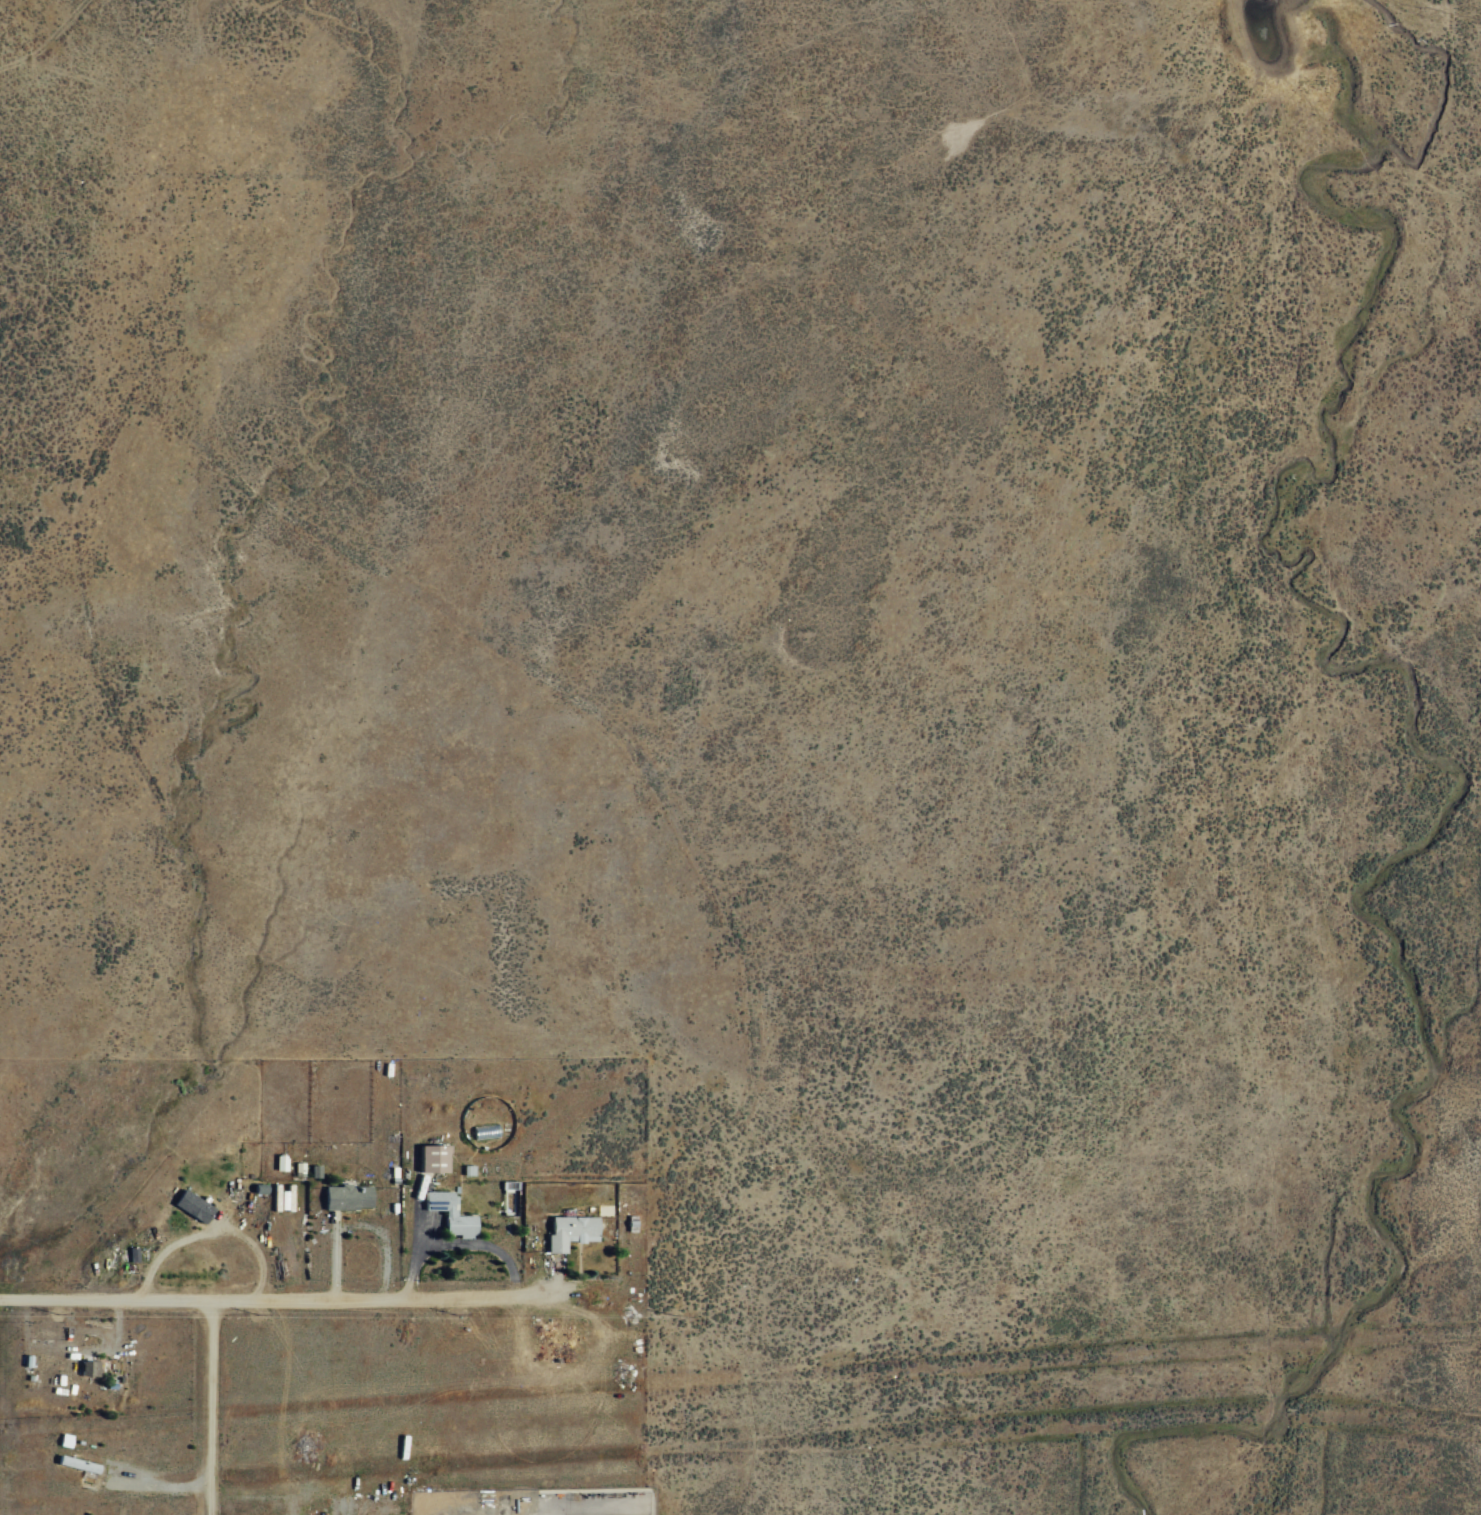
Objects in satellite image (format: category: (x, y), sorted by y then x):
crop: (743, 103)
building: (433, 1157)
building: (280, 1161)
building: (347, 1196)
building: (282, 1197)
building: (192, 1205)
building: (450, 1212)
building: (631, 1222)
building: (570, 1231)
road: (590, 1271)
road: (252, 1273)
building: (89, 1367)
building: (77, 1463)

